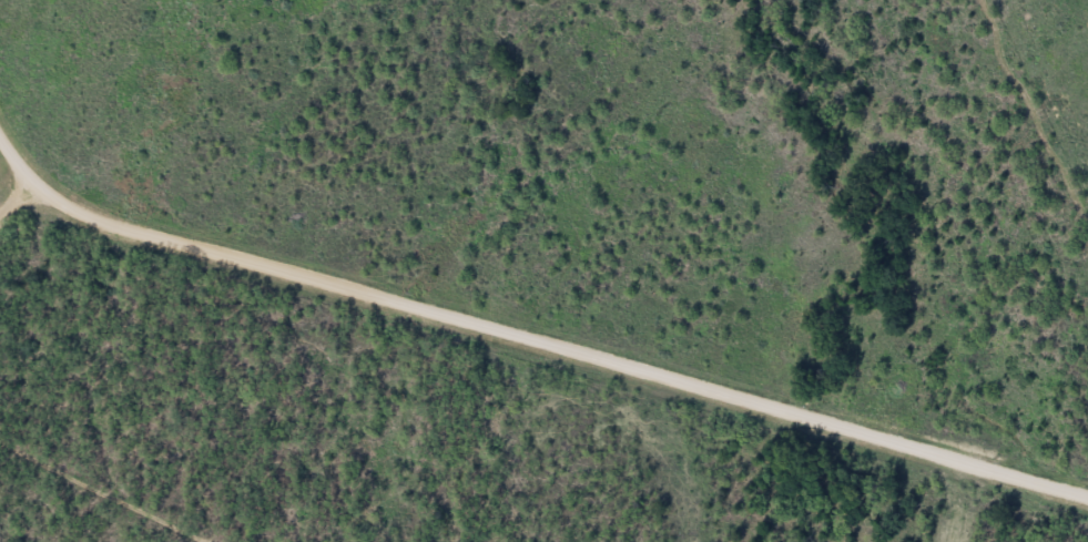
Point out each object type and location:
road: (29, 124)
road: (529, 328)

